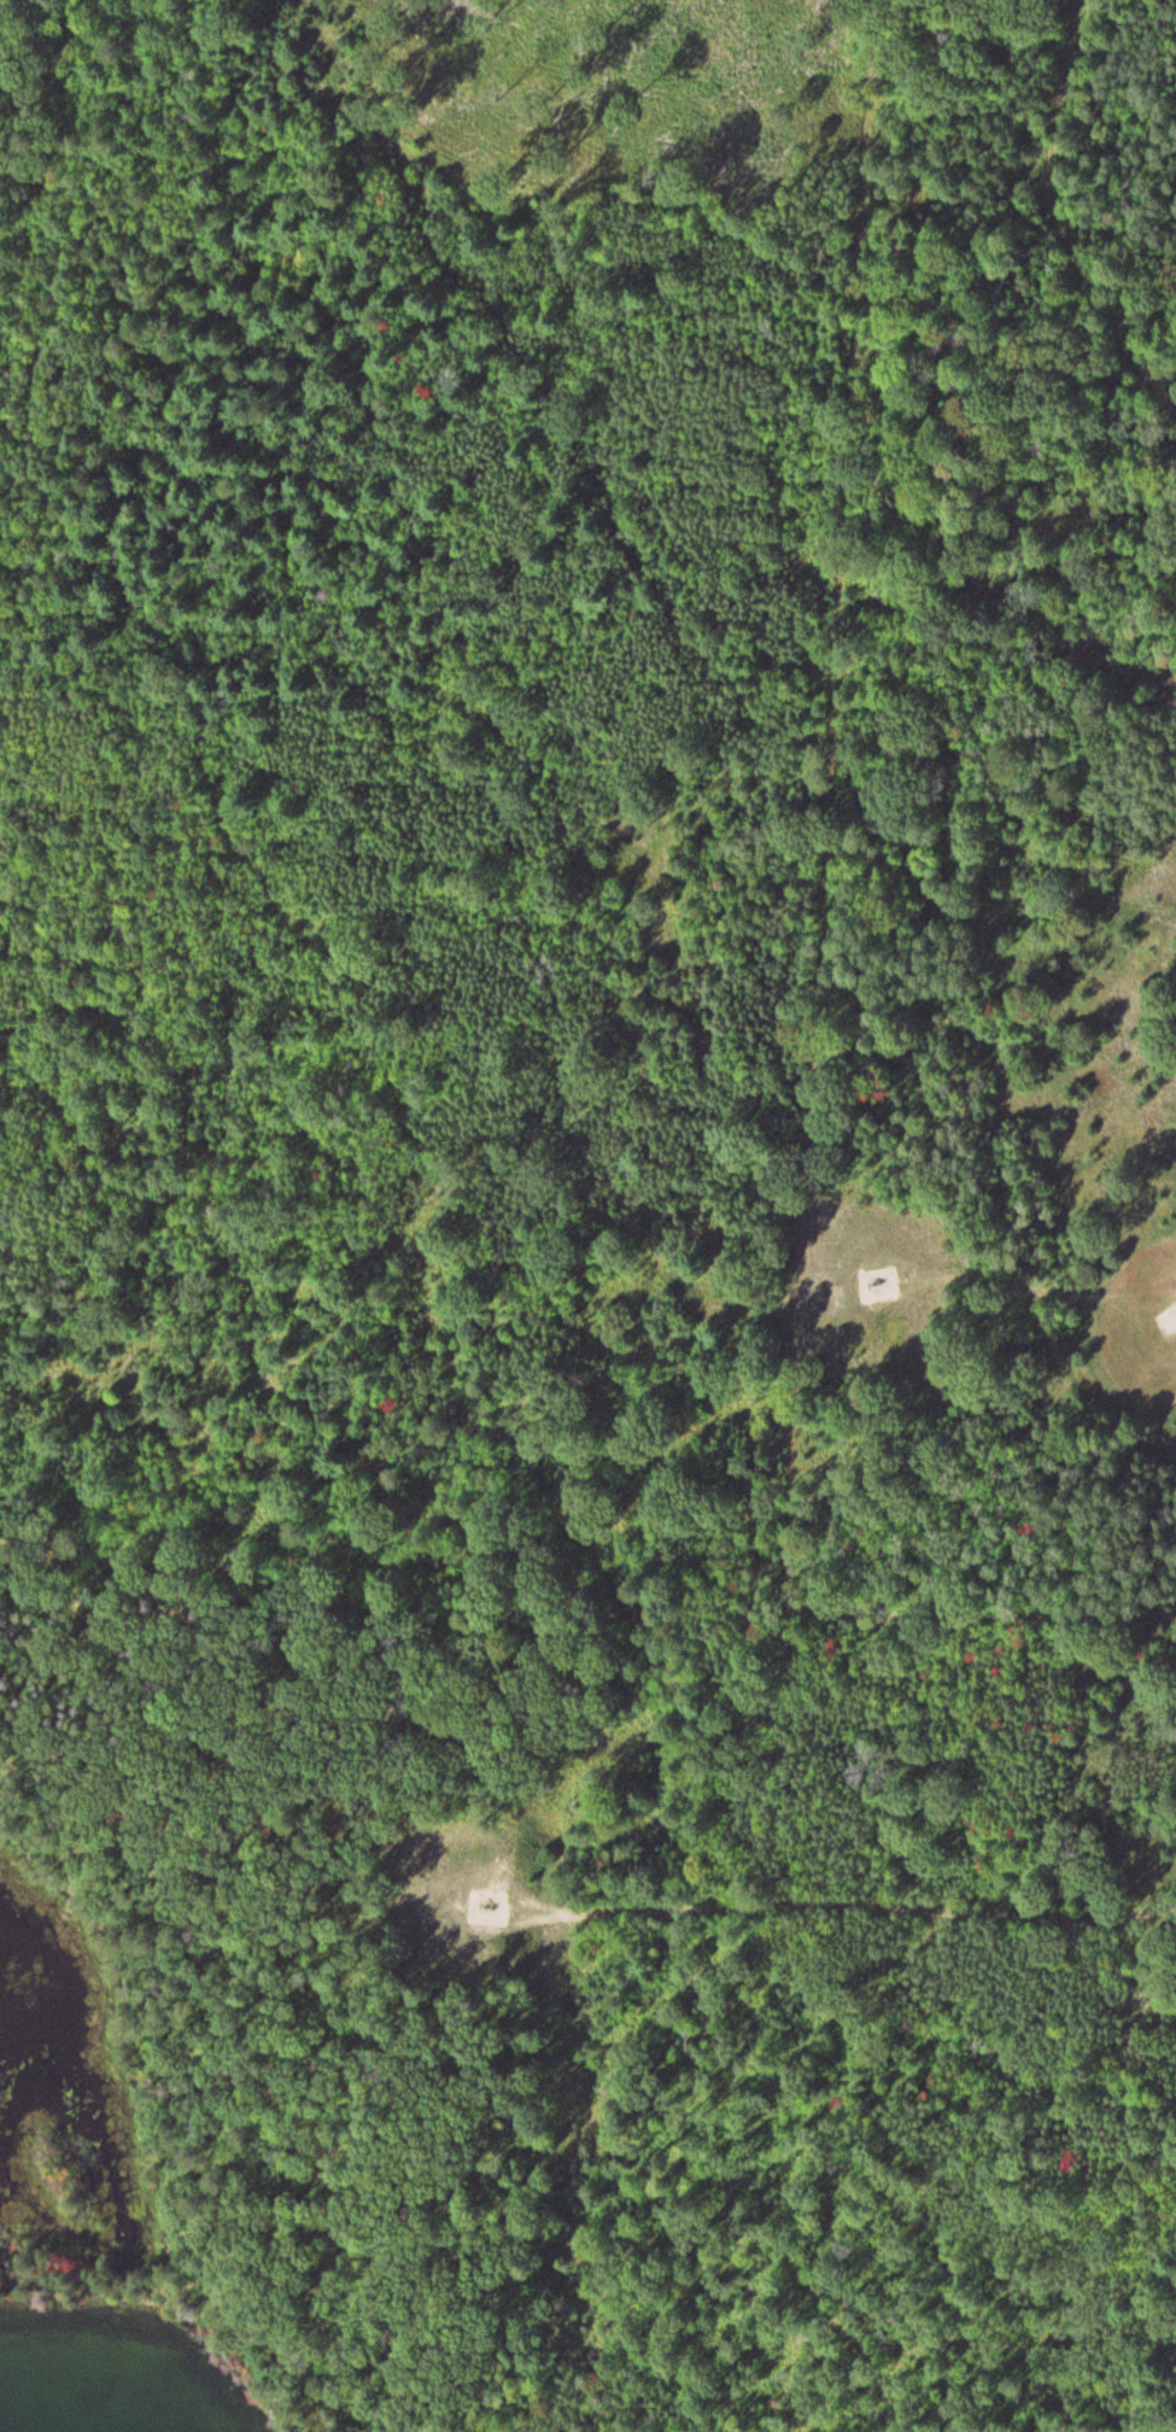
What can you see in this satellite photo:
road: (1051, 222)
petroleum well: (871, 1286)
road: (848, 1911)
petroleum well: (474, 1912)

